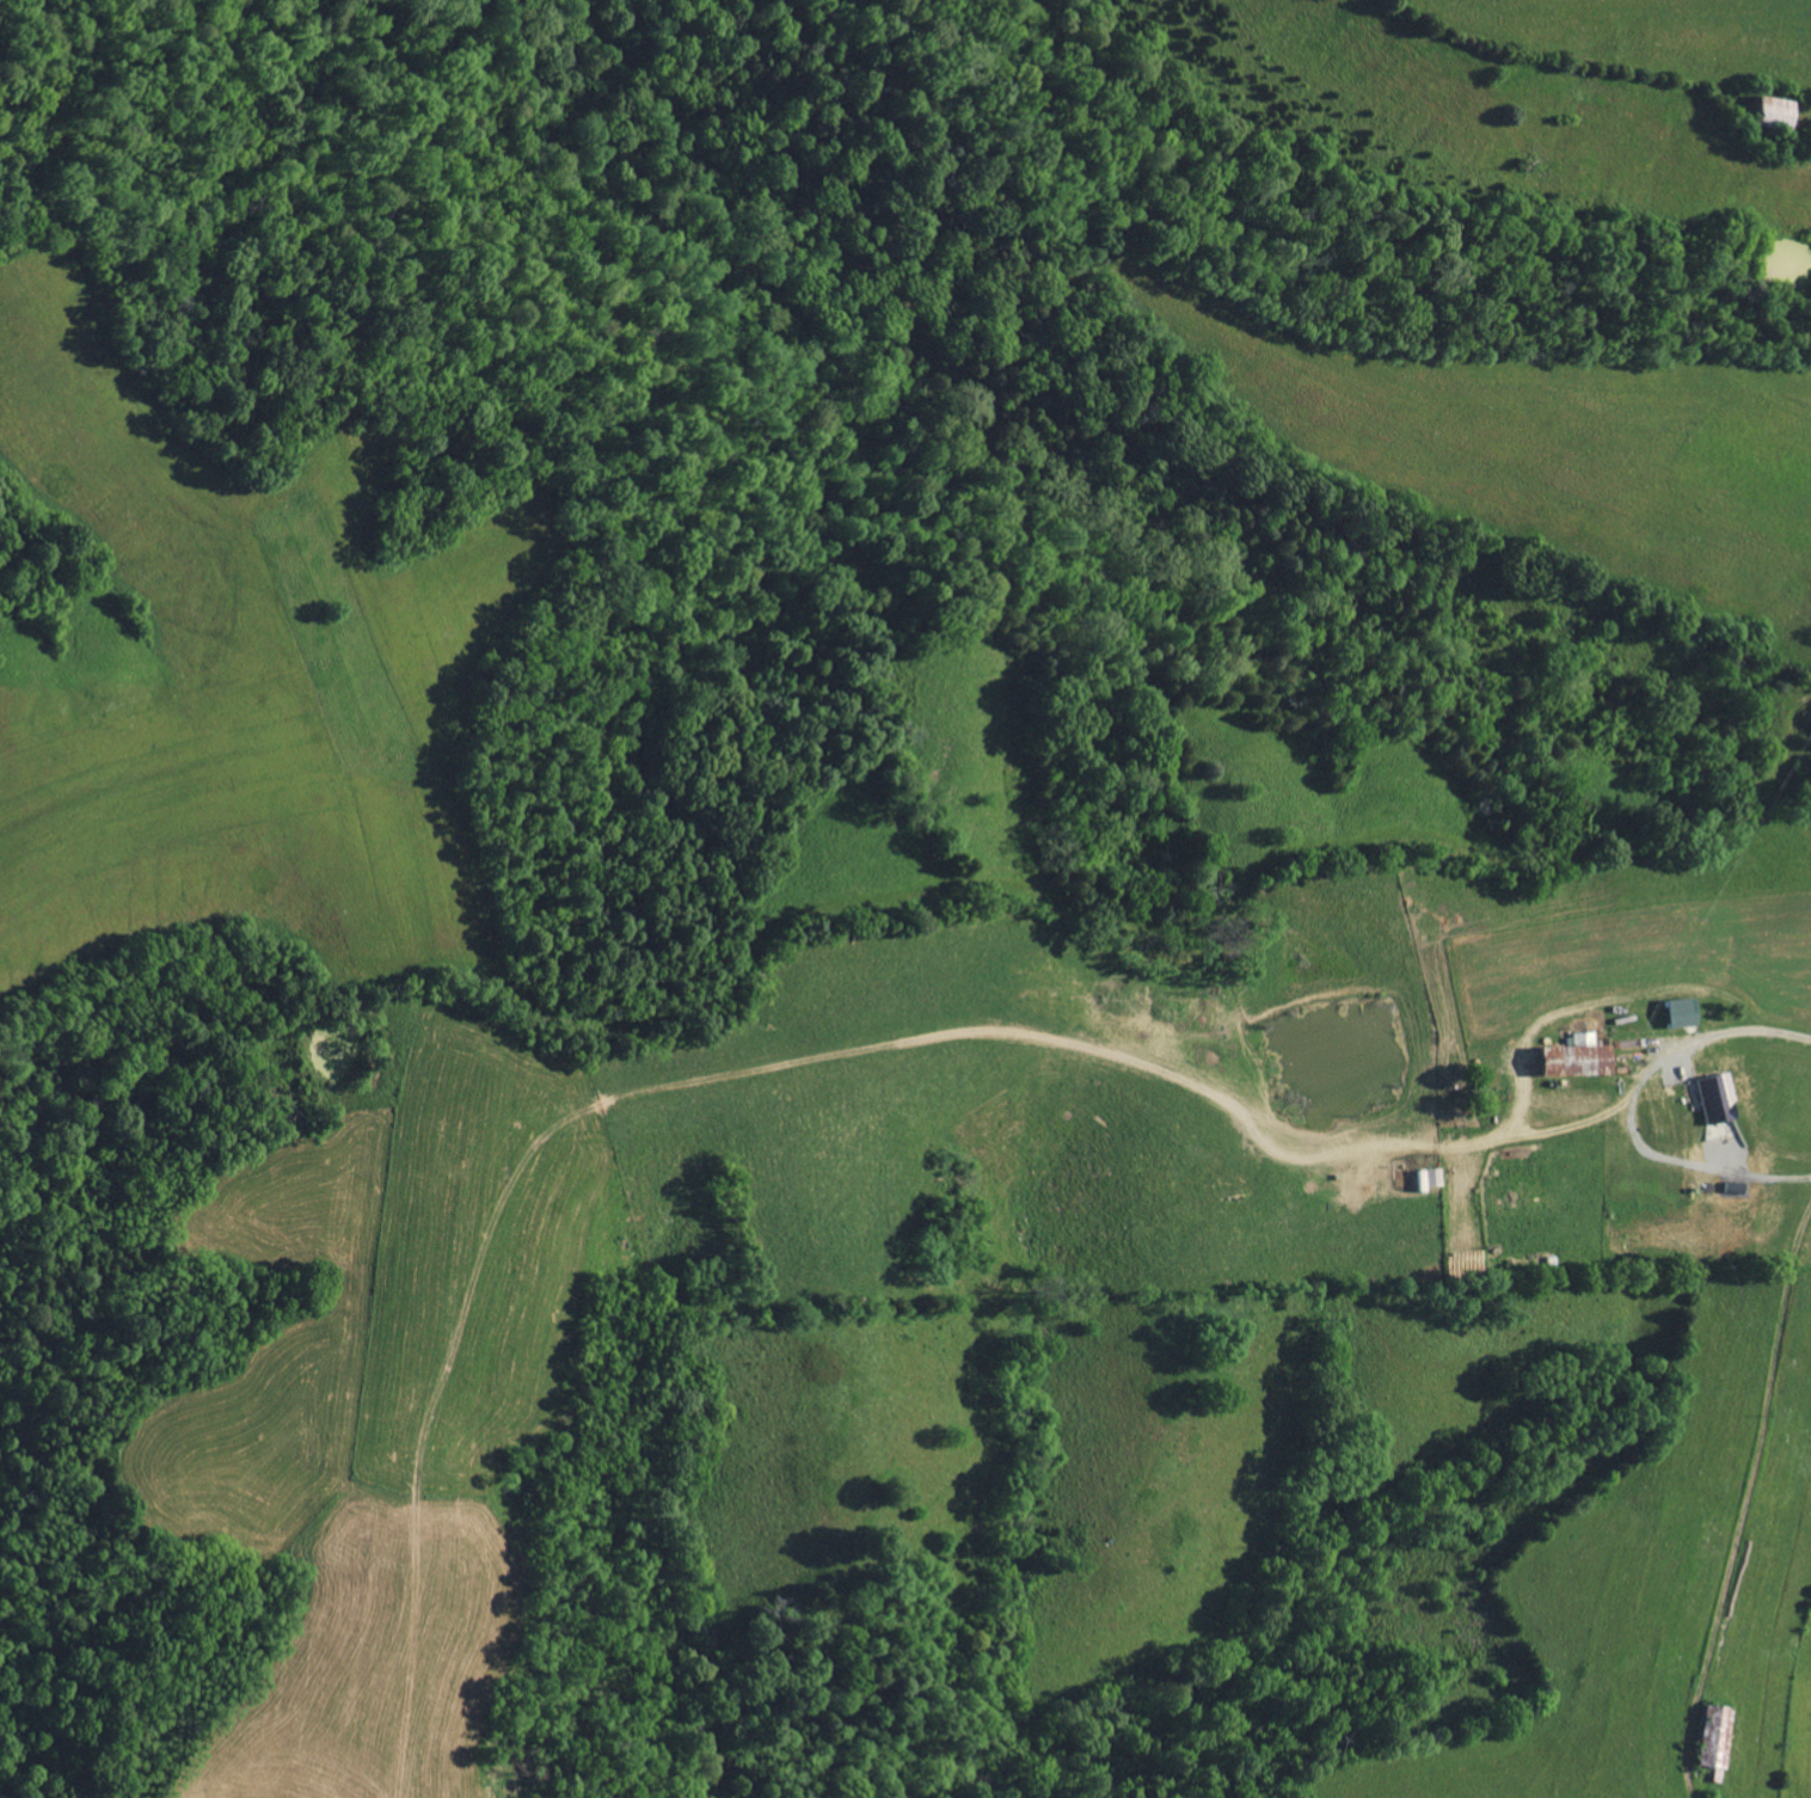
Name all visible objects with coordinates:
building: (1764, 112)
building: (1676, 1011)
road: (1735, 1032)
building: (1570, 1056)
building: (1717, 1115)

